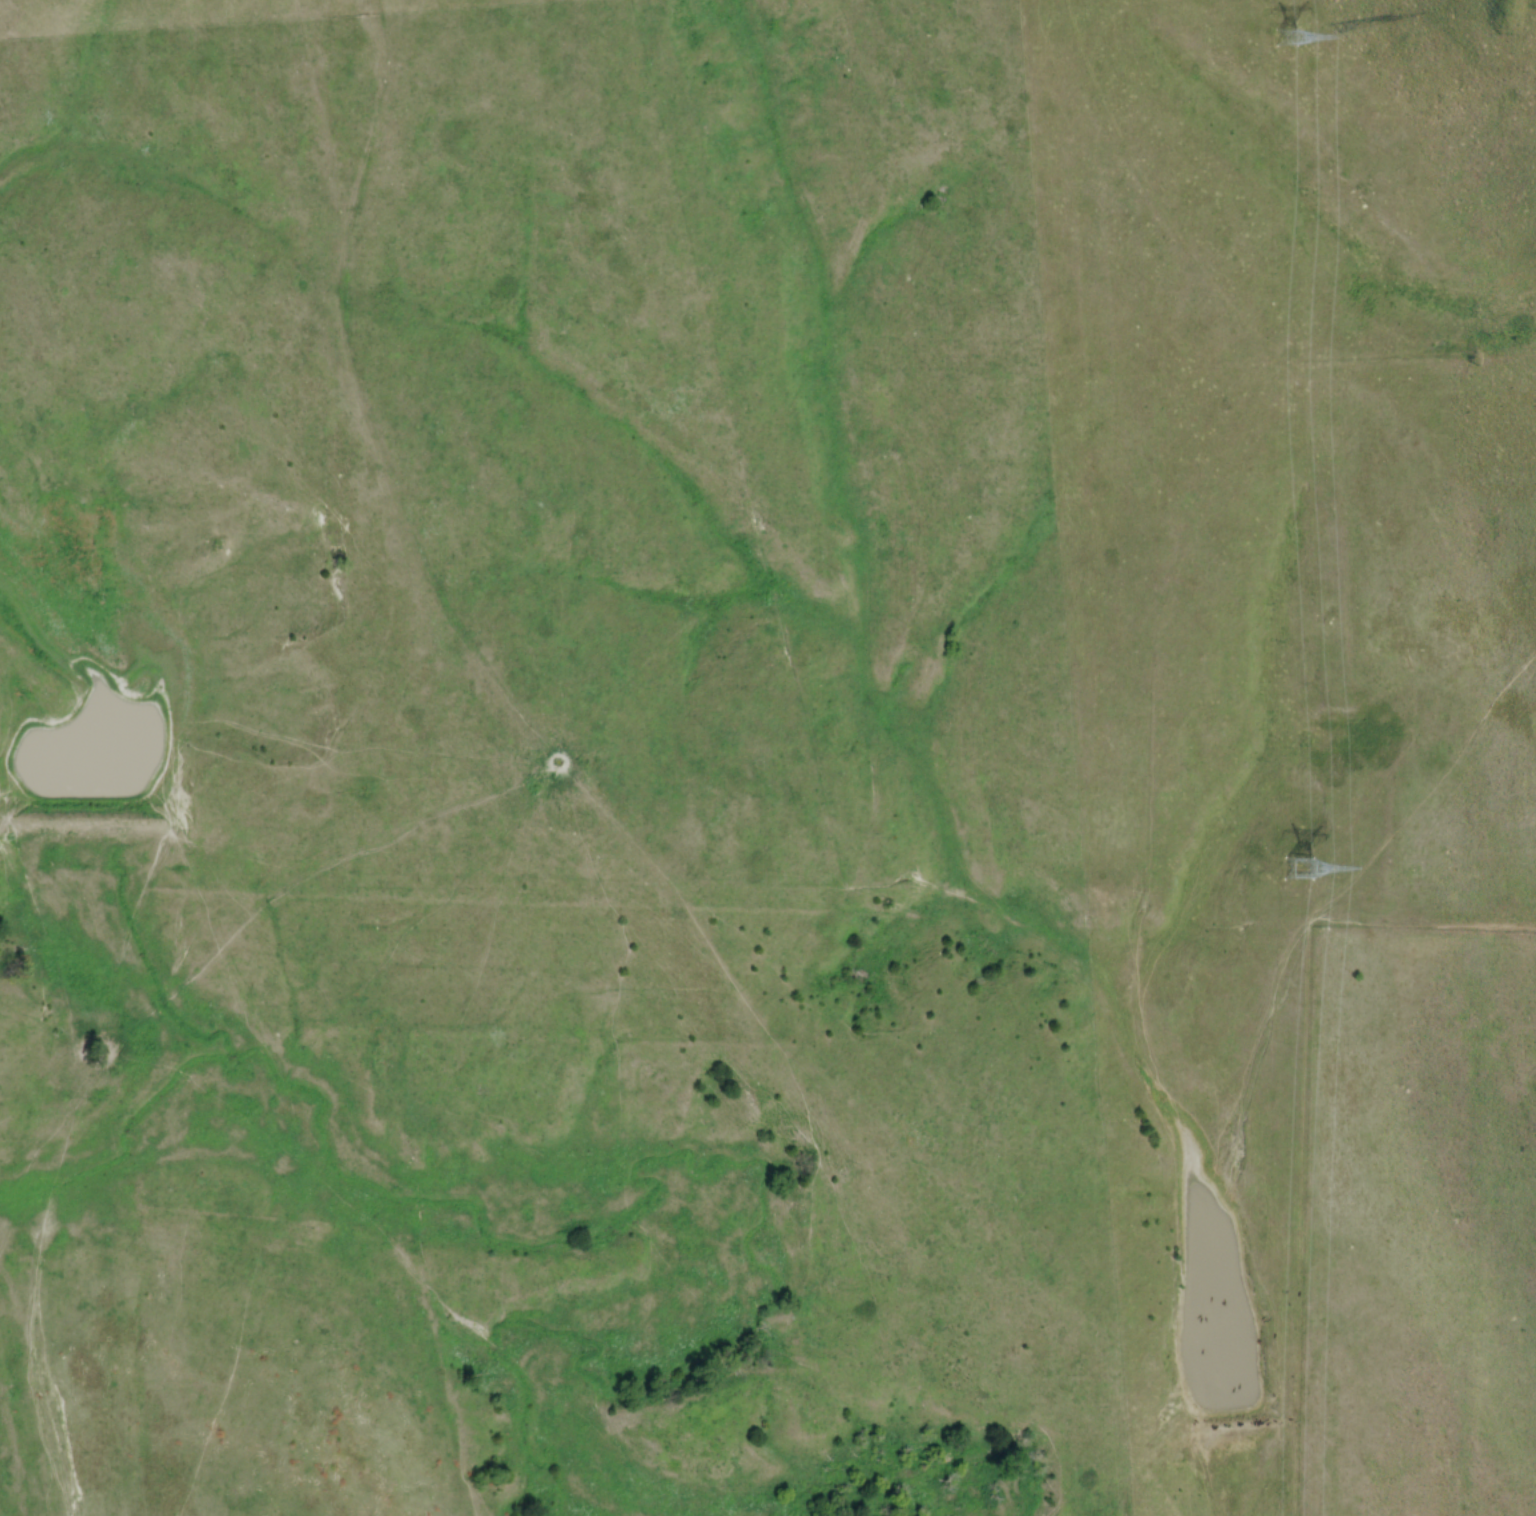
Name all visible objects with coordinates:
power tower: (1287, 40)
power tower: (1299, 869)

